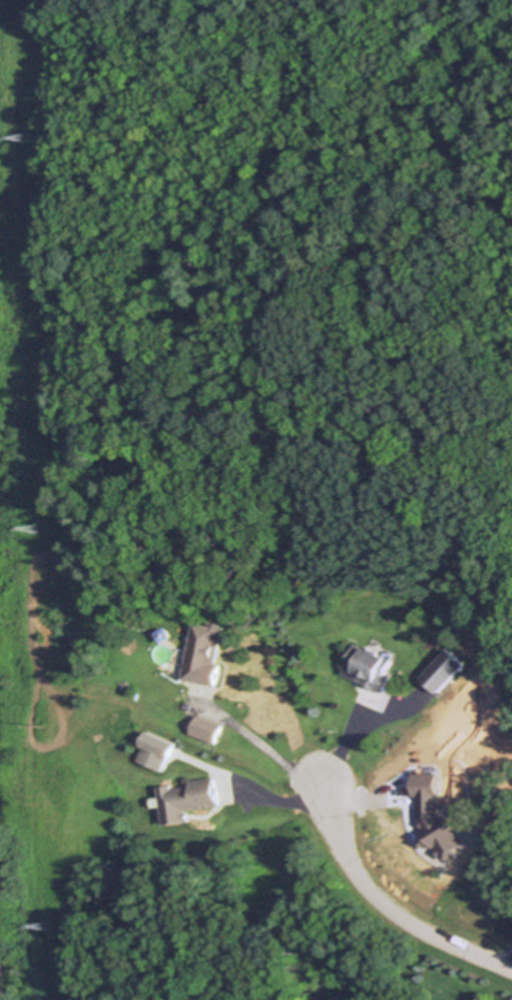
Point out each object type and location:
power tower: (32, 138)
power tower: (37, 529)
building: (165, 631)
building: (205, 651)
building: (369, 666)
building: (444, 669)
building: (421, 700)
building: (208, 728)
road: (356, 737)
building: (160, 743)
road: (273, 758)
road: (254, 794)
building: (189, 798)
building: (438, 818)
road: (388, 910)
power tower: (48, 927)

